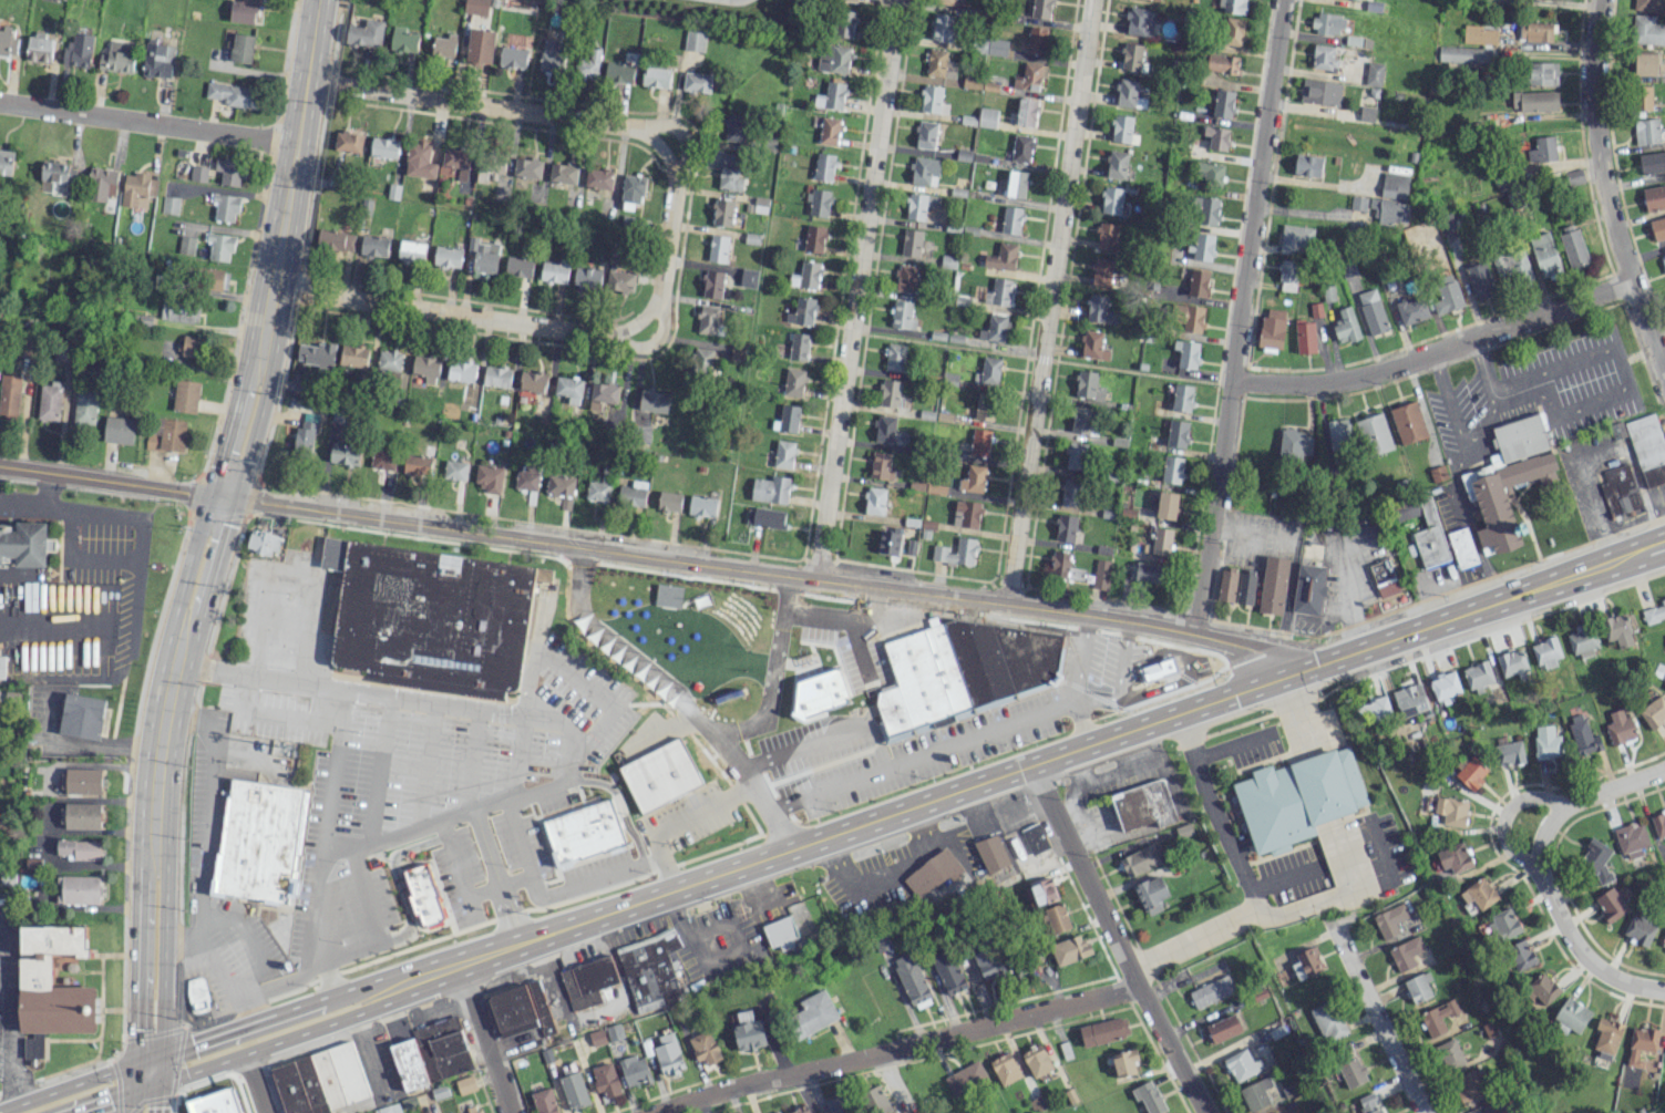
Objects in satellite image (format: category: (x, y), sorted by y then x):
building: (852, 0)
building: (952, 1)
building: (1232, 6)
building: (475, 7)
building: (1041, 9)
building: (244, 11)
building: (1140, 21)
building: (844, 23)
building: (1327, 23)
building: (942, 27)
building: (1647, 30)
building: (1233, 31)
building: (1534, 31)
building: (366, 32)
building: (1479, 34)
building: (403, 40)
building: (695, 40)
building: (7, 41)
building: (1036, 41)
building: (443, 45)
building: (480, 45)
building: (990, 45)
building: (38, 48)
building: (241, 48)
building: (78, 50)
building: (1467, 54)
building: (552, 55)
building: (116, 56)
building: (512, 56)
building: (1131, 56)
building: (1324, 58)
building: (157, 59)
building: (834, 59)
building: (1222, 63)
building: (1646, 63)
building: (586, 64)
building: (941, 64)
building: (619, 72)
building: (1542, 73)
building: (1374, 74)
building: (656, 76)
building: (1029, 76)
building: (697, 82)
building: (972, 82)
building: (1127, 92)
building: (1320, 92)
building: (232, 93)
building: (831, 95)
building: (1642, 97)
building: (933, 100)
building: (1534, 101)
building: (1223, 103)
road: (475, 105)
building: (1026, 112)
building: (1367, 113)
building: (987, 117)
road: (147, 123)
building: (734, 127)
building: (1121, 127)
building: (830, 131)
building: (1646, 131)
building: (925, 134)
road: (681, 136)
building: (1217, 137)
building: (348, 141)
road: (296, 143)
building: (383, 146)
building: (1021, 147)
building: (1542, 150)
building: (419, 158)
building: (728, 158)
building: (456, 161)
building: (6, 162)
building: (1652, 162)
building: (1116, 164)
building: (492, 165)
building: (1307, 165)
building: (823, 166)
building: (527, 167)
building: (229, 171)
building: (924, 171)
building: (198, 173)
building: (563, 173)
building: (1210, 173)
building: (55, 174)
building: (1574, 177)
building: (598, 178)
building: (730, 178)
building: (101, 183)
building: (1016, 184)
building: (1394, 185)
building: (631, 188)
building: (134, 189)
road: (1610, 197)
building: (1654, 197)
building: (1112, 199)
building: (819, 203)
building: (919, 205)
building: (226, 207)
building: (1383, 208)
building: (1205, 210)
building: (722, 212)
road: (1311, 212)
building: (1011, 219)
building: (1657, 227)
building: (1106, 236)
building: (814, 238)
building: (1296, 239)
building: (335, 240)
road: (667, 243)
building: (911, 243)
building: (186, 245)
building: (373, 245)
building: (220, 246)
building: (1203, 246)
building: (1573, 247)
building: (718, 248)
building: (411, 251)
building: (483, 255)
building: (1544, 255)
building: (448, 256)
building: (1001, 257)
building: (1663, 260)
building: (1512, 265)
building: (518, 266)
building: (556, 269)
building: (1101, 271)
building: (806, 275)
building: (587, 277)
building: (748, 278)
building: (905, 278)
building: (215, 279)
building: (620, 280)
building: (1479, 280)
building: (1195, 281)
building: (712, 284)
road: (855, 289)
building: (999, 292)
building: (1447, 295)
road: (1049, 301)
building: (1098, 309)
building: (179, 310)
building: (1373, 310)
building: (1412, 310)
road: (440, 311)
building: (802, 311)
building: (902, 315)
road: (1240, 317)
building: (709, 319)
building: (1190, 319)
building: (1346, 326)
building: (994, 328)
building: (1272, 329)
building: (1305, 337)
road: (657, 340)
building: (1092, 344)
building: (189, 346)
building: (799, 346)
road: (1433, 352)
building: (316, 353)
building: (1186, 353)
building: (353, 354)
building: (895, 357)
building: (700, 360)
building: (389, 361)
building: (426, 367)
building: (461, 370)
building: (988, 371)
road: (1528, 374)
building: (496, 375)
building: (533, 381)
building: (793, 381)
building: (1088, 385)
building: (569, 389)
building: (890, 393)
building: (603, 394)
building: (9, 395)
building: (185, 395)
building: (1182, 398)
building: (654, 400)
building: (49, 401)
building: (984, 405)
road: (1448, 405)
building: (84, 406)
building: (789, 418)
building: (1081, 420)
building: (1409, 422)
road: (1486, 422)
building: (119, 429)
building: (885, 429)
building: (1617, 430)
building: (306, 433)
building: (1176, 433)
building: (166, 434)
building: (1339, 434)
building: (1375, 434)
building: (1520, 437)
building: (979, 442)
building: (1294, 445)
building: (1648, 447)
building: (343, 452)
building: (783, 454)
building: (1075, 455)
building: (382, 456)
building: (418, 464)
building: (881, 465)
building: (1172, 468)
building: (455, 470)
building: (1438, 473)
building: (489, 477)
building: (526, 477)
road: (1637, 477)
building: (973, 478)
building: (600, 485)
building: (927, 486)
road: (47, 487)
building: (561, 488)
building: (771, 488)
building: (1069, 491)
building: (1620, 491)
building: (633, 494)
traffic signals: (223, 496)
building: (669, 501)
building: (874, 501)
road: (20, 502)
building: (702, 505)
building: (1166, 505)
road: (1595, 509)
building: (966, 513)
building: (765, 517)
building: (1066, 528)
building: (1429, 536)
building: (1161, 540)
building: (263, 542)
building: (25, 543)
building: (888, 543)
road: (1663, 544)
building: (1462, 547)
building: (957, 552)
road: (1638, 553)
road: (579, 555)
road: (647, 556)
building: (1059, 564)
road: (201, 568)
building: (1149, 571)
building: (1100, 574)
road: (290, 577)
building: (1384, 577)
building: (1227, 584)
building: (1274, 585)
building: (1245, 587)
building: (1308, 589)
road: (784, 599)
building: (1654, 612)
building: (432, 620)
road: (47, 630)
building: (1617, 630)
building: (1583, 640)
road: (610, 645)
building: (1546, 652)
building: (1008, 659)
road: (1080, 660)
building: (1512, 661)
building: (2, 667)
building: (1157, 667)
building: (1659, 670)
building: (1479, 674)
traffic signals: (1284, 676)
building: (934, 678)
road: (578, 679)
building: (1445, 686)
road: (769, 689)
building: (820, 694)
road: (1120, 698)
building: (1410, 699)
road: (1295, 708)
building: (1374, 710)
building: (1654, 711)
building: (893, 713)
road: (271, 714)
building: (82, 715)
building: (1620, 726)
road: (721, 732)
building: (1583, 735)
road: (81, 742)
building: (1546, 742)
road: (724, 745)
building: (1509, 752)
road: (517, 759)
road: (928, 759)
road: (476, 760)
road: (424, 769)
road: (764, 771)
building: (1471, 772)
road: (378, 775)
building: (660, 775)
road: (999, 775)
building: (81, 781)
building: (1299, 797)
building: (1143, 805)
building: (1451, 811)
building: (81, 815)
road: (1502, 815)
road: (680, 820)
road: (777, 820)
building: (1658, 824)
road: (207, 827)
building: (583, 832)
building: (1035, 837)
building: (1631, 838)
building: (256, 839)
building: (81, 848)
road: (522, 849)
building: (991, 853)
building: (1455, 857)
building: (1595, 858)
building: (1141, 859)
building: (932, 873)
road: (1538, 873)
road: (1243, 876)
road: (493, 877)
building: (78, 889)
building: (1044, 890)
building: (1479, 893)
building: (423, 894)
building: (1151, 894)
road: (1307, 904)
building: (1611, 904)
road: (504, 915)
building: (1057, 918)
building: (1389, 920)
road: (1, 924)
building: (1503, 925)
building: (1640, 928)
building: (781, 932)
road: (1116, 939)
building: (1663, 940)
building: (1069, 949)
road: (163, 951)
building: (1406, 954)
building: (1520, 955)
road: (135, 956)
building: (1309, 960)
building: (988, 962)
building: (651, 969)
building: (1297, 970)
building: (948, 972)
road: (330, 977)
road: (228, 978)
building: (912, 980)
building: (56, 981)
building: (587, 981)
building: (1418, 987)
building: (1542, 989)
building: (1212, 991)
building: (197, 995)
building: (521, 1009)
road: (10, 1013)
building: (811, 1014)
building: (1572, 1014)
building: (1439, 1017)
road: (258, 1018)
building: (1327, 1019)
road: (1377, 1019)
traffic signals: (135, 1028)
building: (1223, 1028)
building: (1103, 1030)
building: (748, 1031)
building: (597, 1037)
building: (1607, 1038)
road: (484, 1039)
traffic signals: (192, 1042)
building: (1641, 1044)
building: (448, 1047)
building: (705, 1048)
road: (893, 1050)
building: (668, 1053)
building: (1450, 1053)
road: (233, 1057)
building: (1037, 1061)
building: (1124, 1062)
building: (409, 1064)
building: (1242, 1064)
building: (1005, 1068)
building: (635, 1070)
building: (1351, 1072)
building: (605, 1079)
building: (966, 1079)
building: (319, 1080)
road: (255, 1082)
road: (160, 1083)
road: (897, 1083)
building: (465, 1084)
building: (1469, 1084)
road: (68, 1085)
road: (133, 1088)
building: (574, 1090)
building: (1256, 1093)
building: (1149, 1096)
building: (876, 1100)
traffic signals: (109, 1101)
building: (544, 1101)
building: (1369, 1103)
building: (836, 1104)
building: (223, 1105)
traffic signals: (160, 1106)
building: (1491, 1107)
building: (801, 1110)
building: (477, 1111)
building: (779, 1112)
building: (1279, 1112)

